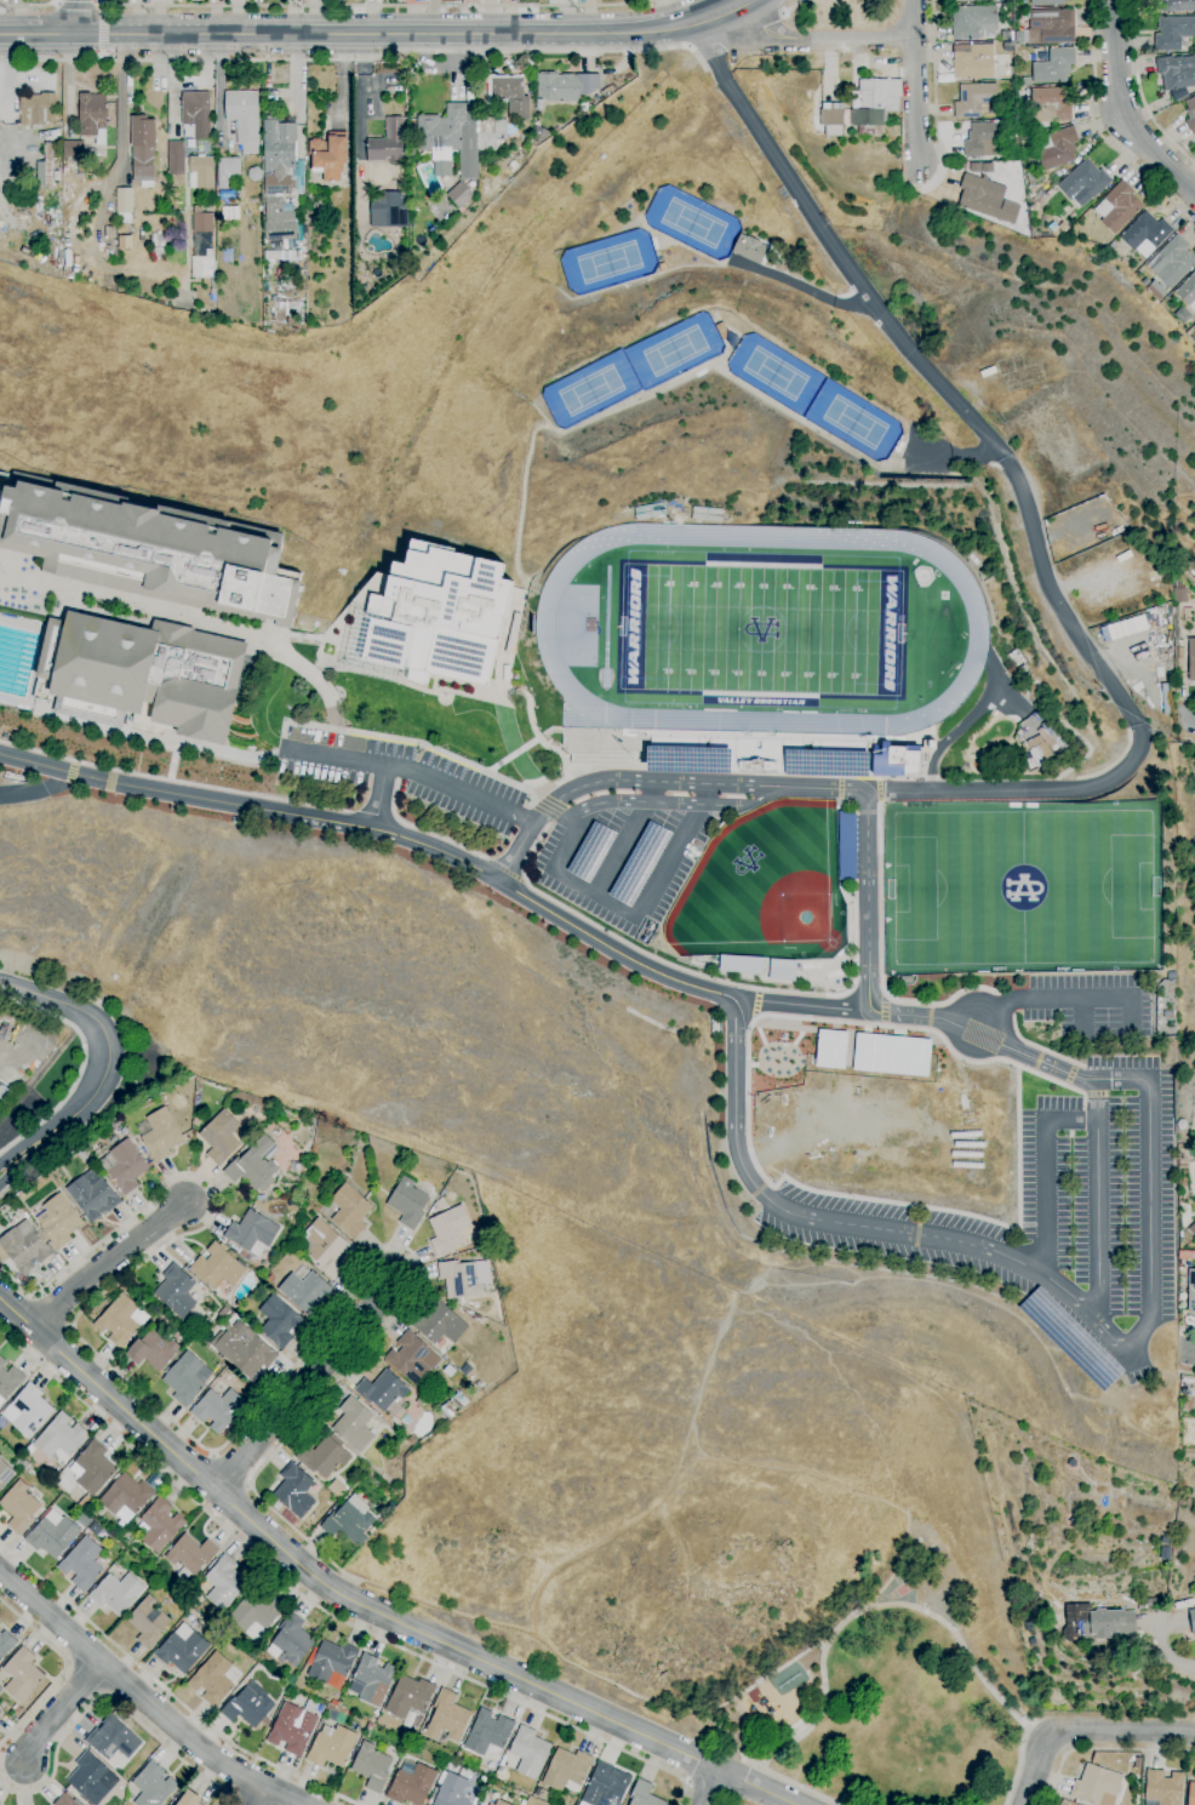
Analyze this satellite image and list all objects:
building: (970, 0)
building: (1047, 2)
road: (739, 4)
road: (373, 5)
building: (1174, 5)
road: (30, 6)
road: (791, 6)
road: (102, 10)
road: (783, 13)
road: (80, 17)
building: (974, 22)
building: (1050, 27)
road: (734, 28)
building: (1172, 32)
road: (368, 34)
road: (819, 38)
building: (1016, 45)
road: (688, 46)
road: (359, 61)
building: (973, 62)
building: (1054, 67)
building: (1176, 72)
building: (1027, 81)
building: (565, 86)
road: (915, 86)
road: (1142, 91)
building: (509, 96)
road: (120, 97)
building: (974, 99)
road: (934, 101)
building: (1053, 102)
building: (874, 104)
building: (38, 109)
road: (1122, 110)
building: (195, 114)
building: (1190, 115)
building: (92, 116)
building: (244, 119)
building: (833, 119)
road: (360, 127)
road: (1098, 132)
building: (494, 135)
building: (539, 135)
building: (984, 138)
building: (451, 139)
building: (389, 144)
building: (279, 147)
building: (1057, 148)
building: (74, 149)
building: (142, 149)
building: (328, 155)
building: (175, 158)
building: (45, 168)
building: (227, 171)
building: (200, 172)
building: (56, 176)
building: (1083, 183)
building: (227, 195)
building: (459, 195)
building: (987, 199)
building: (124, 205)
building: (1117, 207)
building: (385, 210)
building: (229, 213)
building: (278, 221)
park: (693, 222)
building: (1057, 228)
building: (1145, 234)
building: (156, 239)
building: (202, 245)
building: (750, 250)
building: (295, 251)
road: (837, 251)
park: (608, 262)
building: (1173, 262)
road: (799, 285)
building: (1156, 291)
building: (1188, 292)
park: (675, 350)
park: (774, 373)
park: (590, 389)
park: (853, 421)
road: (951, 452)
building: (650, 512)
building: (707, 514)
building: (151, 550)
building: (1179, 593)
road: (1058, 602)
building: (439, 613)
track: (605, 617)
park: (759, 630)
park: (760, 630)
track: (978, 630)
road: (244, 632)
building: (1191, 659)
building: (147, 670)
road: (1185, 695)
road: (1187, 716)
road: (1189, 741)
flagpole: (548, 742)
flagpole: (550, 744)
flagpole: (556, 747)
building: (1037, 747)
building: (690, 758)
building: (898, 759)
building: (825, 762)
road: (417, 769)
parking lot: (401, 773)
road: (858, 778)
road: (175, 781)
road: (840, 789)
road: (879, 789)
road: (36, 790)
road: (1018, 792)
road: (379, 796)
road: (765, 798)
road: (645, 801)
road: (846, 812)
road: (865, 812)
road: (374, 815)
road: (422, 830)
road: (381, 832)
road: (627, 838)
road: (571, 841)
road: (521, 842)
building: (847, 845)
building: (591, 851)
road: (674, 852)
road: (868, 861)
parking lot: (623, 862)
building: (640, 862)
road: (504, 870)
park: (765, 886)
park: (1023, 887)
road: (596, 893)
road: (881, 958)
building: (741, 965)
building: (781, 970)
road: (730, 983)
road: (1064, 999)
road: (756, 1004)
parking lot: (1090, 1004)
road: (800, 1005)
road: (1006, 1005)
road: (885, 1010)
road: (1081, 1016)
road: (104, 1036)
road: (748, 1045)
road: (1040, 1047)
building: (829, 1049)
building: (890, 1055)
road: (80, 1064)
road: (1069, 1074)
road: (1091, 1093)
building: (196, 1120)
building: (275, 1133)
building: (160, 1136)
building: (219, 1137)
building: (87, 1146)
road: (23, 1147)
road: (1017, 1147)
road: (23, 1159)
road: (42, 1159)
building: (126, 1166)
building: (253, 1166)
building: (295, 1166)
road: (1046, 1173)
building: (59, 1175)
building: (92, 1195)
building: (261, 1196)
road: (1097, 1201)
building: (407, 1203)
building: (349, 1212)
road: (1149, 1213)
parking lot: (1050, 1215)
building: (58, 1221)
road: (836, 1223)
building: (0, 1226)
building: (448, 1229)
building: (1191, 1229)
building: (251, 1235)
building: (24, 1247)
building: (326, 1250)
road: (105, 1261)
building: (217, 1267)
building: (269, 1279)
building: (459, 1280)
building: (304, 1290)
building: (176, 1291)
building: (1190, 1291)
building: (120, 1320)
building: (279, 1321)
building: (439, 1324)
road: (1189, 1330)
building: (1071, 1338)
building: (154, 1348)
road: (1188, 1350)
building: (244, 1352)
building: (412, 1359)
road: (1187, 1373)
building: (185, 1378)
building: (8, 1381)
building: (479, 1383)
road: (304, 1386)
building: (383, 1393)
building: (419, 1401)
building: (453, 1405)
building: (28, 1411)
building: (218, 1411)
building: (353, 1426)
road: (236, 1429)
building: (400, 1430)
building: (59, 1439)
building: (29, 1449)
building: (324, 1456)
building: (92, 1468)
building: (5, 1474)
road: (808, 1478)
building: (337, 1489)
building: (293, 1491)
building: (125, 1497)
road: (671, 1497)
building: (18, 1507)
building: (349, 1521)
building: (159, 1526)
building: (52, 1536)
road: (675, 1546)
building: (190, 1554)
building: (102, 1561)
building: (81, 1564)
road: (904, 1572)
building: (224, 1583)
building: (116, 1593)
building: (1154, 1601)
road: (362, 1605)
road: (321, 1609)
road: (870, 1610)
building: (255, 1613)
building: (1191, 1620)
building: (148, 1622)
building: (1097, 1624)
building: (291, 1641)
building: (6, 1644)
road: (551, 1646)
building: (182, 1649)
road: (1166, 1653)
building: (332, 1663)
road: (62, 1670)
building: (22, 1675)
building: (213, 1680)
building: (371, 1680)
road: (762, 1684)
road: (168, 1692)
park: (894, 1695)
building: (408, 1697)
road: (107, 1698)
road: (143, 1700)
building: (248, 1706)
building: (0, 1712)
road: (56, 1713)
building: (447, 1718)
building: (373, 1720)
building: (295, 1726)
road: (1085, 1727)
building: (487, 1732)
building: (113, 1740)
road: (1046, 1741)
building: (331, 1746)
building: (528, 1752)
road: (1102, 1752)
road: (1019, 1760)
building: (1137, 1764)
building: (371, 1766)
building: (566, 1769)
building: (88, 1778)
building: (411, 1783)
building: (153, 1786)
road: (801, 1786)
building: (1097, 1786)
building: (605, 1787)
road: (711, 1787)
building: (1162, 1788)
building: (454, 1792)
building: (541, 1794)
building: (644, 1794)
road: (709, 1794)
building: (1191, 1794)
road: (258, 1797)
building: (189, 1799)
building: (64, 1800)
building: (499, 1803)

